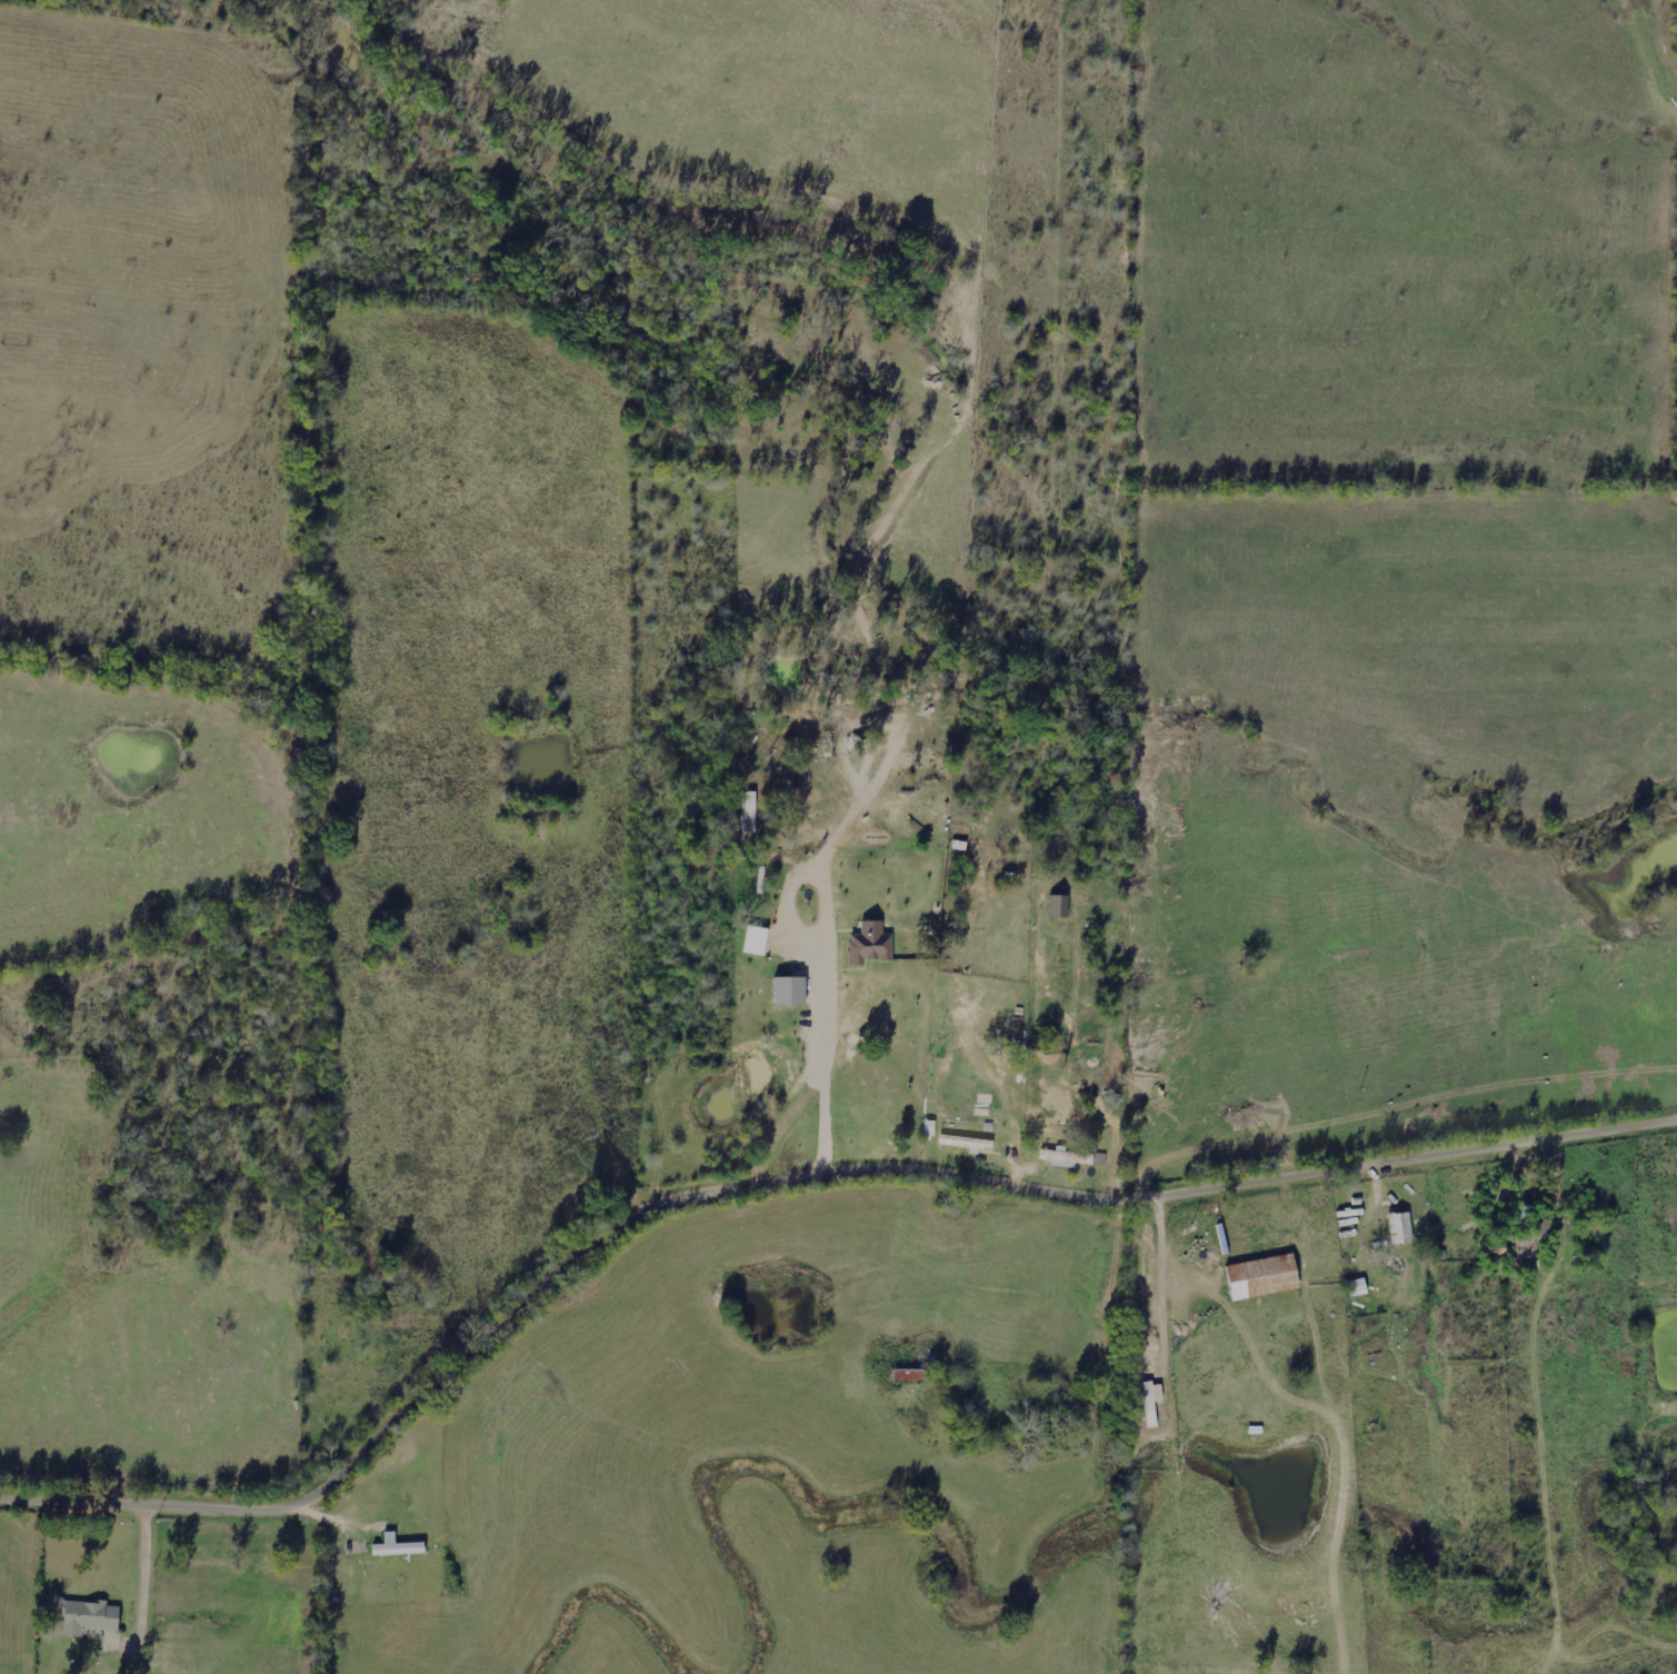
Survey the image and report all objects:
building: (1061, 906)
building: (758, 939)
building: (872, 944)
building: (792, 990)
building: (969, 1143)
building: (1069, 1157)
road: (785, 1183)
building: (1403, 1227)
building: (1265, 1277)
building: (925, 1357)
building: (90, 1616)

